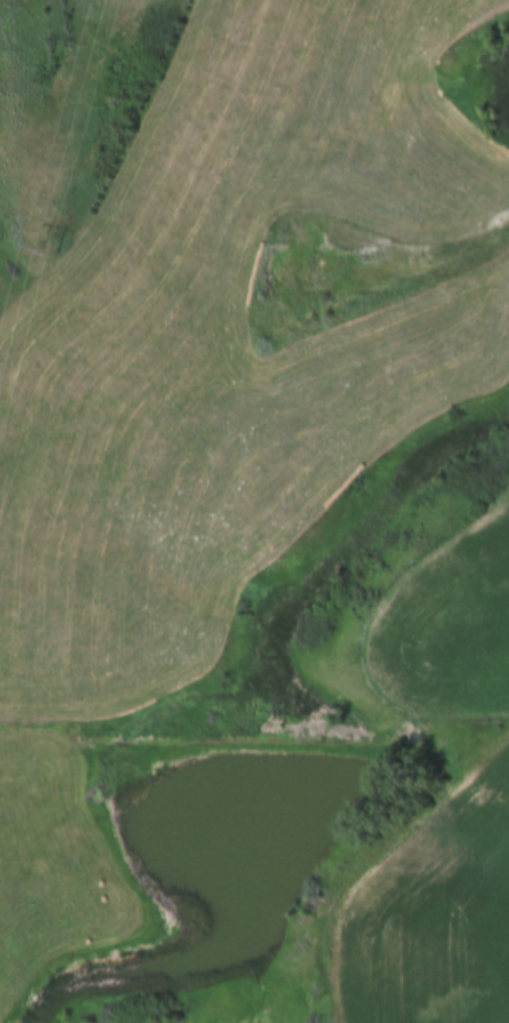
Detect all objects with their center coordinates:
road: (471, 245)
power tower: (55, 250)

